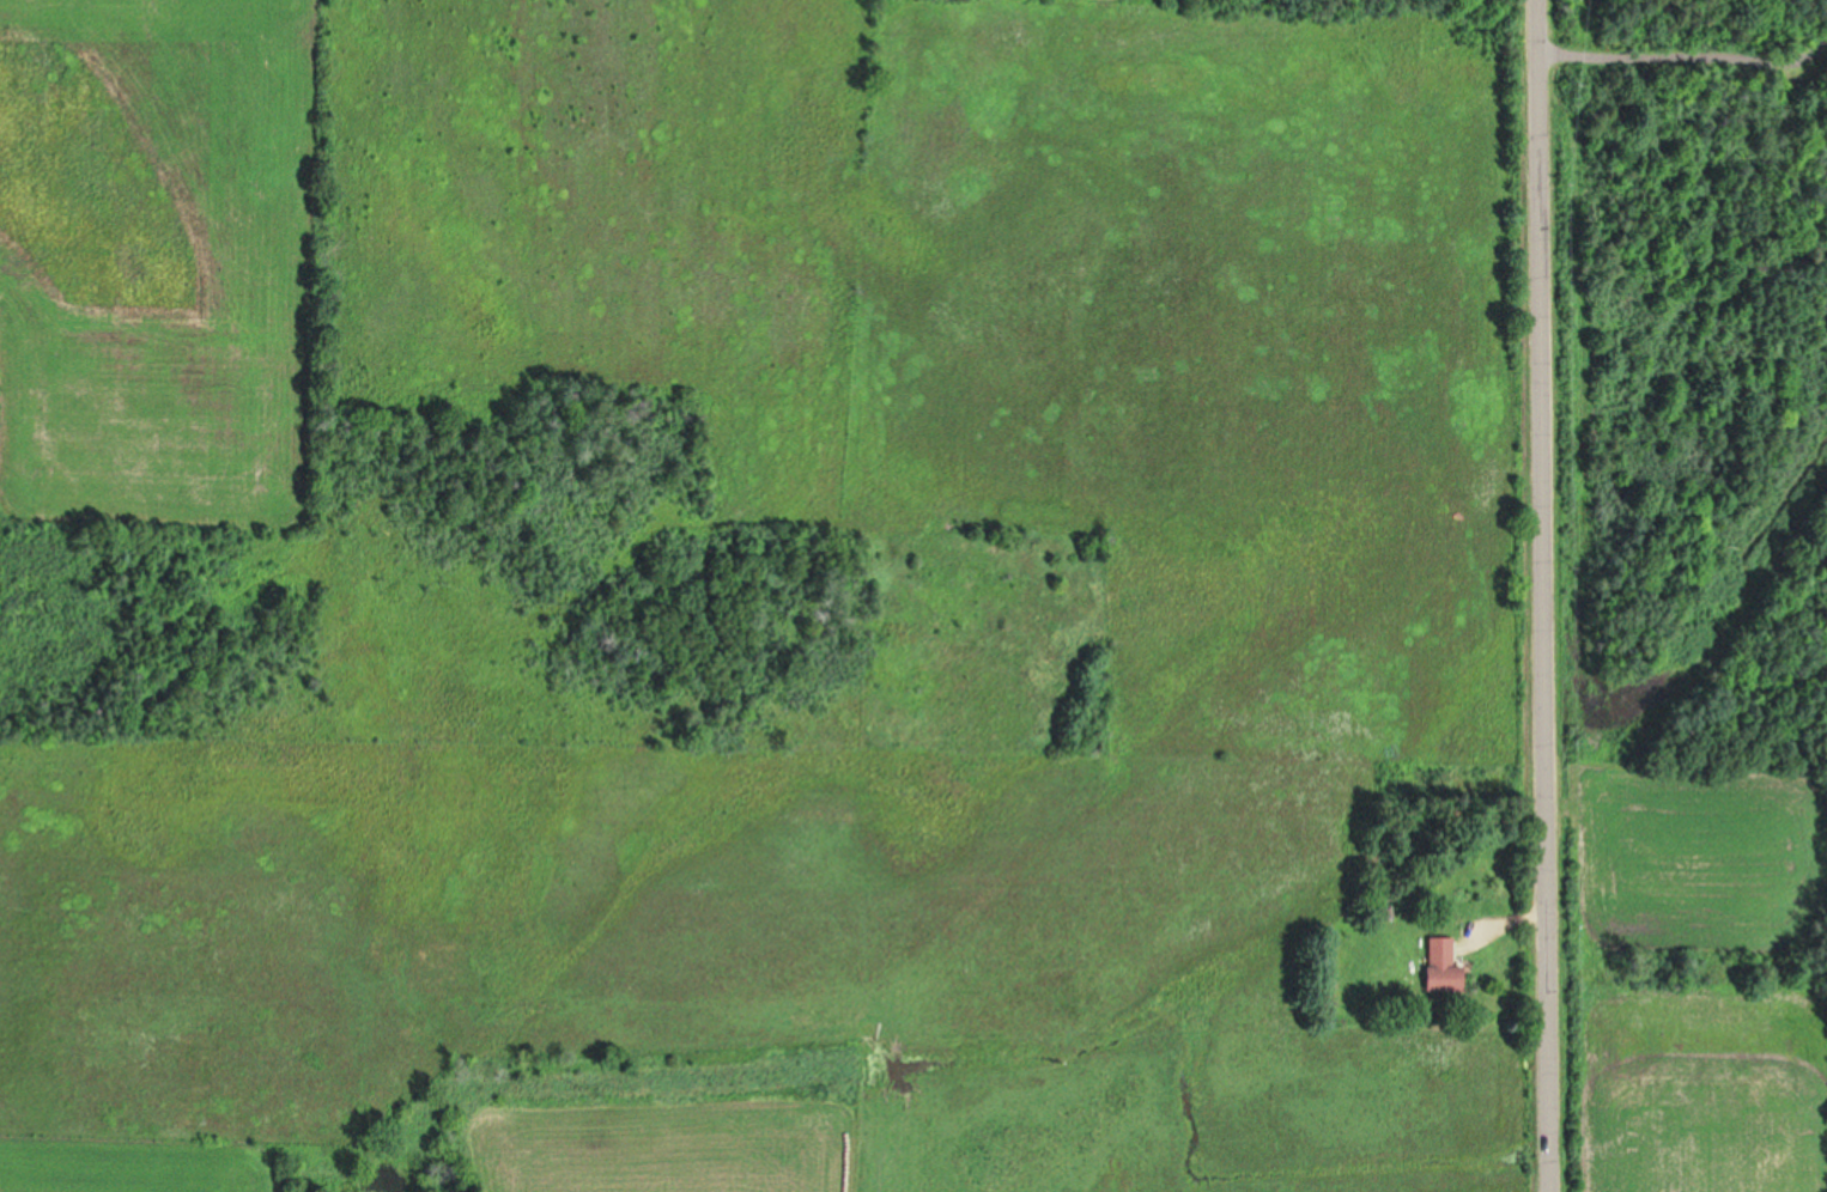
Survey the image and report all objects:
road: (1688, 60)
road: (1544, 595)
building: (1435, 965)

